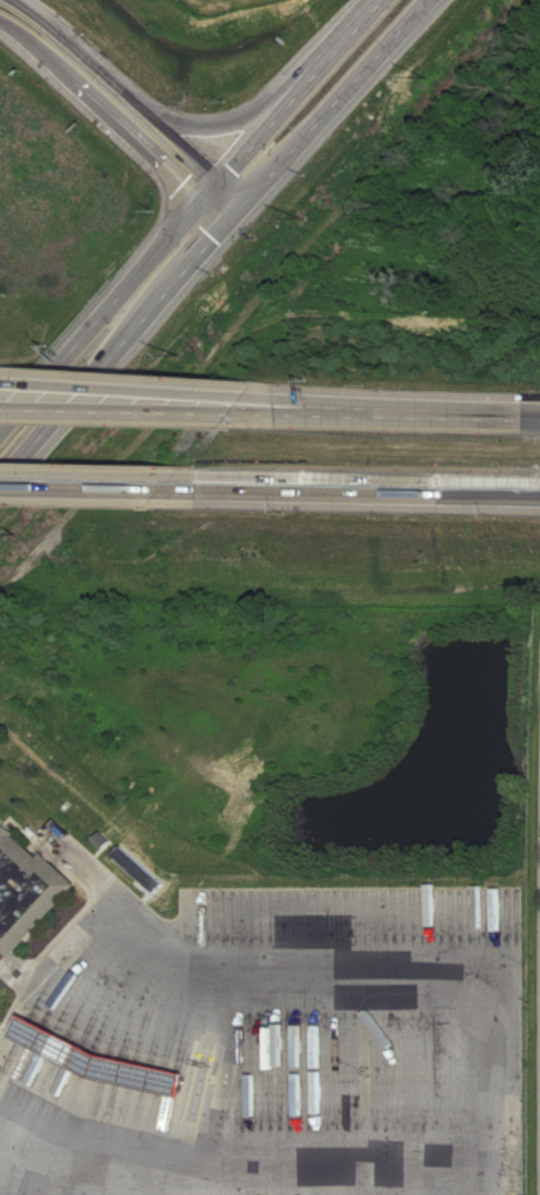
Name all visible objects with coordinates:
road: (104, 105)
road: (183, 129)
road: (170, 140)
road: (229, 194)
road: (191, 210)
road: (211, 213)
road: (213, 237)
road: (5, 386)
road: (117, 393)
road: (302, 406)
road: (109, 415)
road: (379, 415)
road: (87, 484)
road: (357, 486)
road: (108, 882)
building: (26, 889)
road: (446, 955)
parking lot: (247, 1022)
road: (201, 1060)
building: (96, 1062)
building: (245, 1097)
road: (349, 1159)
road: (503, 1175)
road: (177, 1179)

